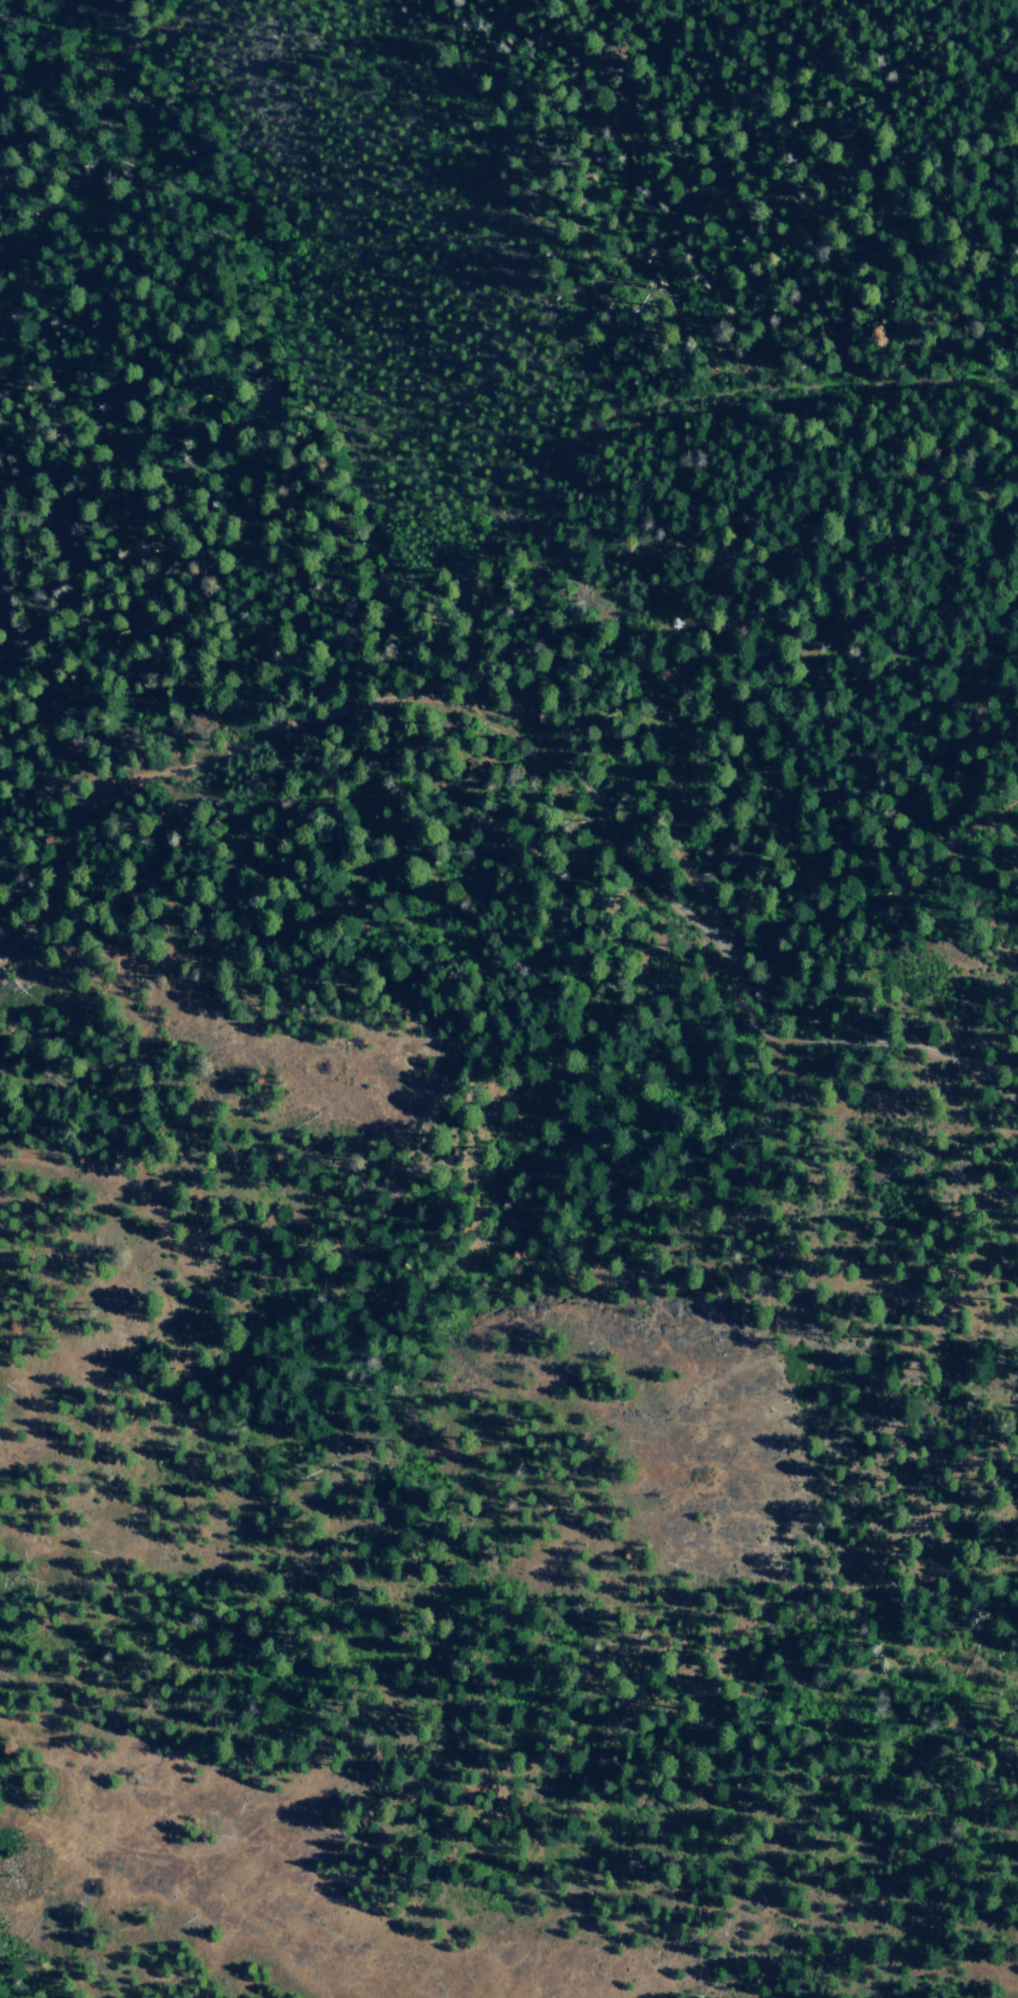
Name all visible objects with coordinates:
road: (560, 481)
road: (534, 728)

